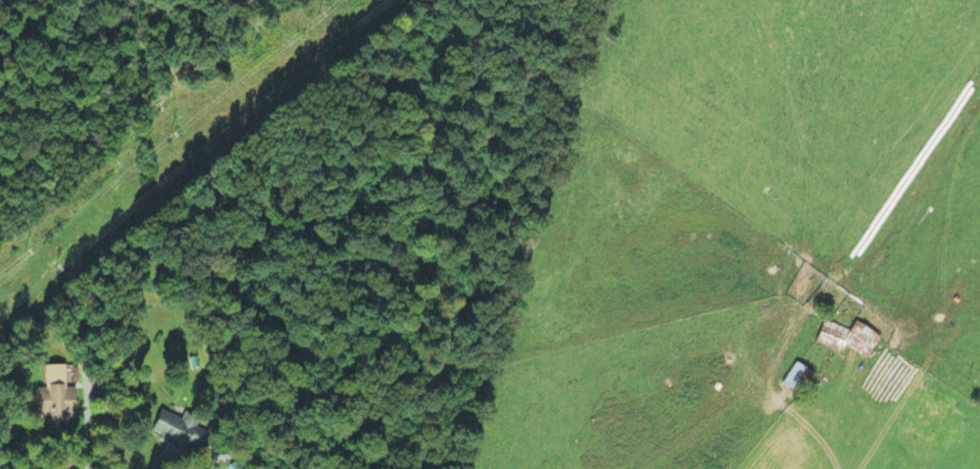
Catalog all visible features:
building: (849, 338)
building: (795, 376)
road: (789, 398)
building: (52, 401)
road: (87, 413)
building: (177, 429)
road: (52, 435)

